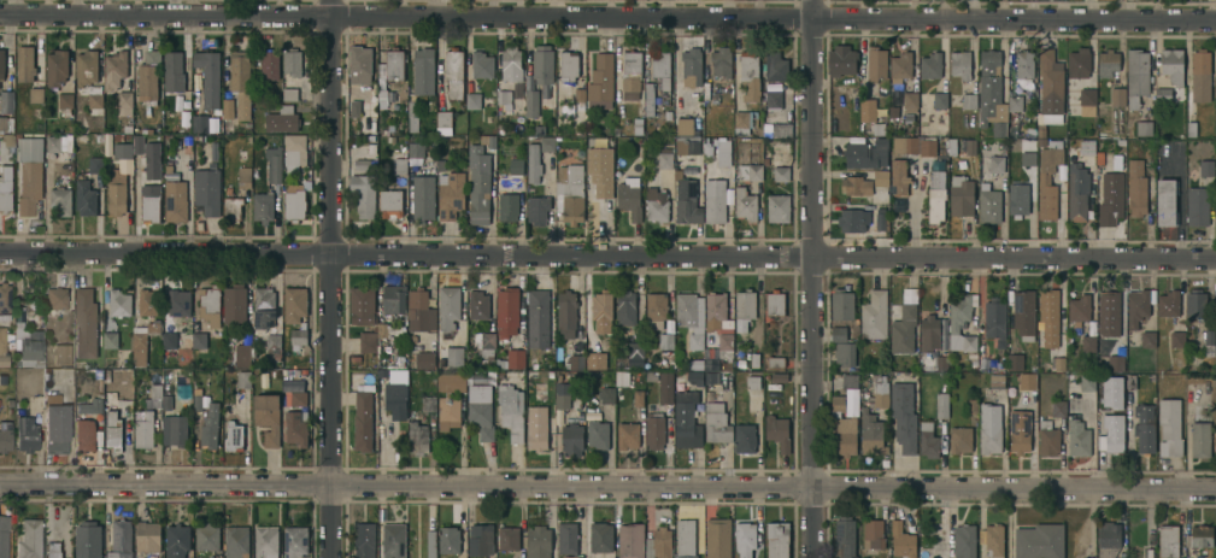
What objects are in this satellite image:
road: (607, 19)
building: (840, 59)
building: (292, 61)
building: (721, 61)
building: (1077, 61)
building: (24, 63)
building: (510, 63)
building: (875, 63)
building: (1108, 63)
building: (1, 64)
building: (270, 64)
building: (360, 64)
building: (394, 64)
building: (482, 64)
building: (542, 64)
building: (691, 64)
building: (961, 64)
building: (1171, 64)
building: (568, 65)
building: (929, 65)
building: (1023, 65)
building: (775, 66)
building: (900, 66)
building: (57, 67)
building: (114, 70)
building: (172, 71)
building: (423, 71)
building: (453, 72)
building: (662, 72)
building: (630, 75)
building: (750, 75)
building: (1200, 75)
building: (148, 76)
building: (208, 76)
building: (1136, 76)
building: (601, 77)
building: (89, 81)
building: (240, 82)
building: (989, 88)
building: (1050, 89)
building: (289, 94)
building: (382, 94)
building: (1162, 94)
building: (36, 95)
building: (578, 95)
building: (1117, 96)
building: (504, 98)
building: (124, 99)
building: (648, 99)
building: (773, 99)
building: (940, 99)
building: (65, 100)
building: (127, 100)
building: (472, 100)
building: (969, 100)
building: (1087, 100)
building: (910, 101)
building: (1015, 101)
building: (6, 102)
building: (531, 102)
building: (354, 107)
building: (227, 108)
building: (412, 108)
building: (867, 110)
building: (666, 116)
building: (443, 118)
building: (741, 118)
building: (282, 119)
building: (1012, 121)
building: (2, 123)
building: (199, 123)
building: (689, 123)
building: (10, 124)
building: (412, 124)
building: (215, 125)
building: (366, 127)
building: (636, 127)
building: (1144, 127)
building: (94, 128)
building: (999, 128)
building: (780, 129)
building: (1191, 129)
building: (1215, 129)
building: (127, 136)
building: (98, 139)
building: (118, 139)
building: (168, 139)
building: (187, 140)
building: (492, 142)
building: (1041, 142)
building: (53, 143)
building: (137, 143)
building: (546, 143)
building: (905, 143)
building: (1020, 143)
building: (687, 145)
building: (926, 146)
building: (970, 146)
building: (1087, 146)
building: (1176, 147)
building: (371, 148)
building: (293, 149)
building: (416, 149)
building: (107, 152)
building: (723, 152)
building: (152, 153)
building: (865, 153)
building: (123, 157)
building: (665, 158)
building: (1026, 159)
building: (274, 163)
building: (533, 163)
building: (995, 163)
building: (95, 164)
building: (362, 164)
building: (400, 164)
building: (516, 165)
building: (439, 166)
building: (1205, 168)
building: (600, 170)
building: (750, 171)
building: (780, 172)
building: (29, 174)
building: (898, 175)
building: (243, 176)
building: (881, 178)
building: (1047, 181)
building: (478, 183)
building: (856, 184)
building: (4, 188)
building: (1136, 188)
building: (207, 189)
building: (228, 189)
building: (116, 192)
building: (569, 192)
building: (1077, 192)
building: (364, 194)
building: (450, 194)
building: (423, 196)
building: (629, 196)
building: (935, 196)
building: (959, 196)
building: (84, 198)
building: (1110, 198)
building: (1017, 199)
building: (60, 200)
building: (175, 200)
building: (686, 200)
building: (715, 201)
building: (1165, 201)
building: (389, 204)
building: (745, 204)
building: (900, 204)
building: (988, 204)
building: (294, 205)
building: (657, 205)
building: (1198, 205)
building: (263, 206)
building: (507, 206)
building: (149, 208)
building: (231, 208)
building: (536, 208)
building: (779, 208)
building: (851, 219)
building: (880, 221)
road: (607, 257)
road: (330, 278)
road: (812, 278)
building: (4, 296)
building: (394, 299)
building: (57, 300)
building: (148, 301)
building: (118, 303)
building: (178, 303)
building: (234, 303)
building: (774, 303)
building: (1196, 303)
building: (210, 304)
building: (294, 304)
building: (477, 304)
building: (745, 304)
building: (841, 304)
building: (1168, 304)
building: (362, 305)
building: (656, 305)
building: (263, 306)
building: (448, 306)
building: (1136, 306)
building: (625, 307)
building: (417, 309)
building: (565, 309)
building: (689, 309)
building: (1079, 309)
building: (506, 310)
building: (601, 311)
building: (715, 311)
building: (959, 311)
building: (1109, 312)
building: (1023, 313)
building: (874, 315)
building: (994, 317)
building: (1048, 317)
building: (537, 321)
building: (84, 323)
building: (903, 329)
building: (929, 333)
building: (836, 334)
building: (298, 336)
building: (1147, 339)
building: (1177, 339)
building: (110, 340)
building: (169, 340)
building: (199, 340)
building: (665, 340)
building: (142, 341)
building: (368, 341)
building: (695, 341)
building: (726, 341)
building: (969, 342)
building: (1088, 342)
building: (1209, 342)
building: (483, 343)
building: (30, 345)
building: (272, 346)
building: (2, 348)
building: (635, 348)
building: (844, 353)
building: (61, 354)
building: (452, 354)
building: (242, 356)
building: (516, 358)
building: (1215, 359)
building: (424, 360)
building: (594, 360)
building: (574, 362)
building: (775, 362)
building: (1015, 362)
building: (1115, 362)
building: (500, 363)
building: (740, 363)
building: (941, 363)
building: (1057, 363)
building: (697, 364)
building: (382, 372)
building: (46, 376)
building: (70, 376)
building: (695, 377)
building: (779, 377)
building: (243, 378)
building: (619, 378)
building: (709, 380)
building: (848, 380)
building: (997, 381)
building: (1027, 381)
building: (1130, 382)
building: (35, 383)
building: (155, 390)
building: (1110, 393)
building: (606, 394)
building: (562, 395)
building: (665, 395)
building: (395, 397)
building: (298, 398)
building: (638, 398)
building: (450, 399)
building: (881, 400)
building: (10, 401)
building: (166, 401)
building: (196, 403)
building: (838, 403)
building: (428, 404)
building: (941, 405)
building: (90, 406)
building: (973, 406)
building: (1058, 407)
building: (480, 409)
building: (511, 411)
building: (266, 416)
building: (686, 416)
building: (904, 416)
building: (363, 421)
building: (716, 423)
building: (210, 425)
building: (296, 427)
building: (1169, 427)
building: (55, 428)
building: (989, 428)
building: (1144, 428)
building: (112, 429)
building: (145, 430)
building: (177, 430)
building: (654, 430)
building: (1020, 430)
building: (777, 431)
building: (536, 433)
building: (598, 433)
building: (871, 433)
building: (25, 434)
building: (84, 434)
building: (4, 435)
building: (628, 435)
building: (845, 435)
building: (234, 436)
building: (417, 437)
building: (745, 437)
building: (927, 437)
building: (1047, 437)
building: (1077, 437)
building: (1115, 437)
building: (571, 439)
building: (959, 439)
building: (1199, 439)
building: (1215, 439)
road: (607, 488)
building: (873, 534)
building: (4, 535)
building: (147, 535)
building: (364, 535)
building: (1109, 535)
building: (206, 536)
building: (600, 536)
building: (845, 536)
building: (1199, 536)
building: (509, 538)
building: (566, 538)
building: (685, 538)
building: (718, 538)
building: (745, 538)
building: (29, 539)
building: (448, 539)
building: (480, 539)
building: (777, 539)
building: (992, 539)
building: (88, 540)
building: (121, 540)
building: (176, 540)
building: (630, 540)
building: (1050, 540)
building: (236, 541)
building: (265, 541)
building: (295, 541)
building: (393, 541)
building: (539, 541)
building: (901, 541)
building: (964, 541)
building: (1168, 541)
building: (430, 542)
building: (1026, 542)
building: (658, 544)
building: (53, 550)
building: (572, 557)
building: (1089, 557)

